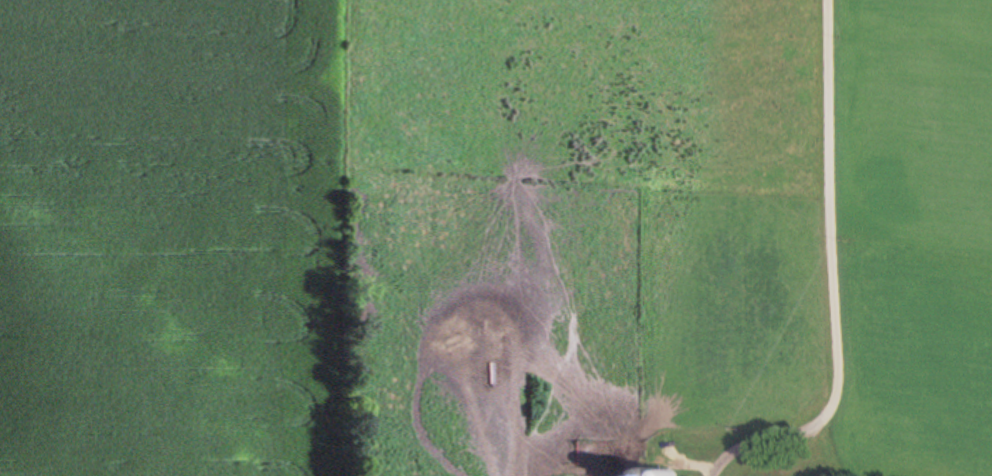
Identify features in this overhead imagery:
road: (810, 224)
building: (635, 475)

